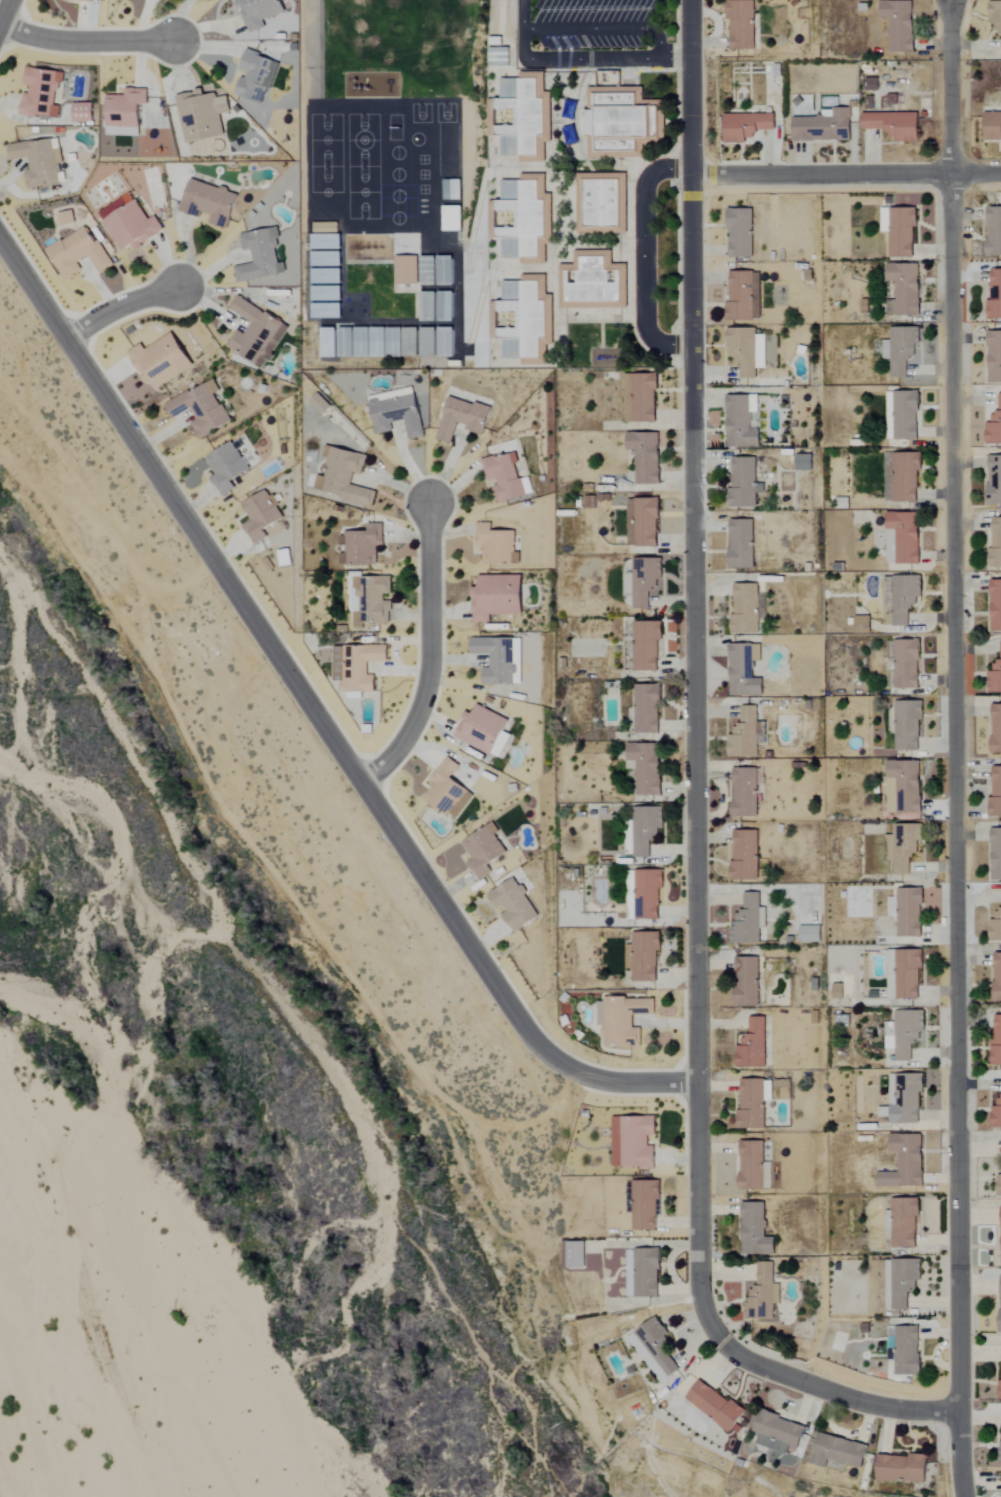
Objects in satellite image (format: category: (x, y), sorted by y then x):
building: (82, 1)
building: (259, 12)
road: (5, 14)
building: (995, 17)
building: (741, 25)
building: (900, 25)
road: (601, 28)
road: (86, 40)
building: (501, 57)
road: (577, 59)
building: (256, 77)
building: (872, 85)
building: (40, 93)
building: (82, 113)
building: (202, 115)
building: (522, 117)
building: (620, 122)
building: (894, 125)
building: (746, 126)
building: (824, 126)
building: (993, 126)
building: (39, 162)
road: (845, 174)
building: (452, 190)
building: (209, 203)
building: (600, 207)
building: (66, 218)
building: (522, 219)
building: (130, 223)
building: (325, 227)
building: (900, 231)
building: (994, 231)
building: (740, 233)
building: (326, 241)
building: (79, 253)
road: (643, 255)
building: (260, 256)
building: (326, 259)
building: (407, 270)
building: (428, 271)
building: (445, 271)
building: (326, 276)
building: (593, 282)
building: (905, 288)
building: (326, 294)
building: (744, 297)
building: (995, 297)
road: (118, 307)
building: (428, 307)
building: (445, 307)
building: (327, 311)
building: (524, 318)
building: (256, 334)
building: (378, 342)
building: (328, 343)
building: (428, 343)
building: (446, 343)
building: (746, 350)
building: (901, 350)
building: (994, 358)
building: (161, 361)
building: (640, 398)
building: (320, 404)
building: (201, 409)
building: (397, 415)
building: (906, 416)
building: (462, 418)
building: (742, 421)
building: (994, 427)
building: (646, 456)
building: (803, 463)
building: (226, 468)
building: (504, 477)
building: (905, 477)
building: (345, 478)
building: (994, 481)
building: (744, 484)
building: (260, 516)
building: (643, 523)
building: (905, 537)
building: (741, 544)
building: (361, 546)
building: (496, 546)
building: (995, 546)
building: (282, 558)
building: (643, 581)
building: (497, 597)
building: (905, 598)
building: (995, 606)
building: (747, 610)
building: (862, 625)
building: (647, 646)
road: (428, 657)
building: (494, 661)
building: (906, 664)
building: (356, 667)
building: (744, 671)
building: (995, 676)
building: (648, 708)
road: (315, 714)
building: (908, 725)
building: (996, 729)
building: (482, 730)
building: (747, 735)
road: (953, 748)
building: (647, 768)
building: (904, 789)
building: (447, 791)
building: (746, 792)
building: (996, 792)
road: (694, 800)
building: (646, 829)
building: (902, 846)
building: (484, 852)
building: (996, 855)
building: (745, 856)
building: (648, 894)
building: (514, 905)
building: (909, 913)
building: (749, 920)
building: (996, 927)
building: (809, 933)
building: (629, 957)
building: (646, 957)
building: (906, 973)
building: (997, 976)
building: (747, 981)
building: (838, 991)
building: (623, 1020)
building: (907, 1032)
building: (996, 1039)
building: (752, 1045)
building: (906, 1099)
building: (753, 1103)
building: (996, 1114)
building: (633, 1141)
building: (905, 1162)
building: (754, 1166)
building: (999, 1185)
building: (644, 1204)
building: (904, 1222)
building: (755, 1230)
building: (575, 1255)
building: (643, 1272)
building: (900, 1282)
building: (760, 1294)
building: (1000, 1307)
building: (654, 1349)
building: (907, 1351)
building: (1000, 1352)
building: (716, 1406)
river: (36, 1415)
building: (778, 1433)
building: (1000, 1446)
building: (902, 1467)

